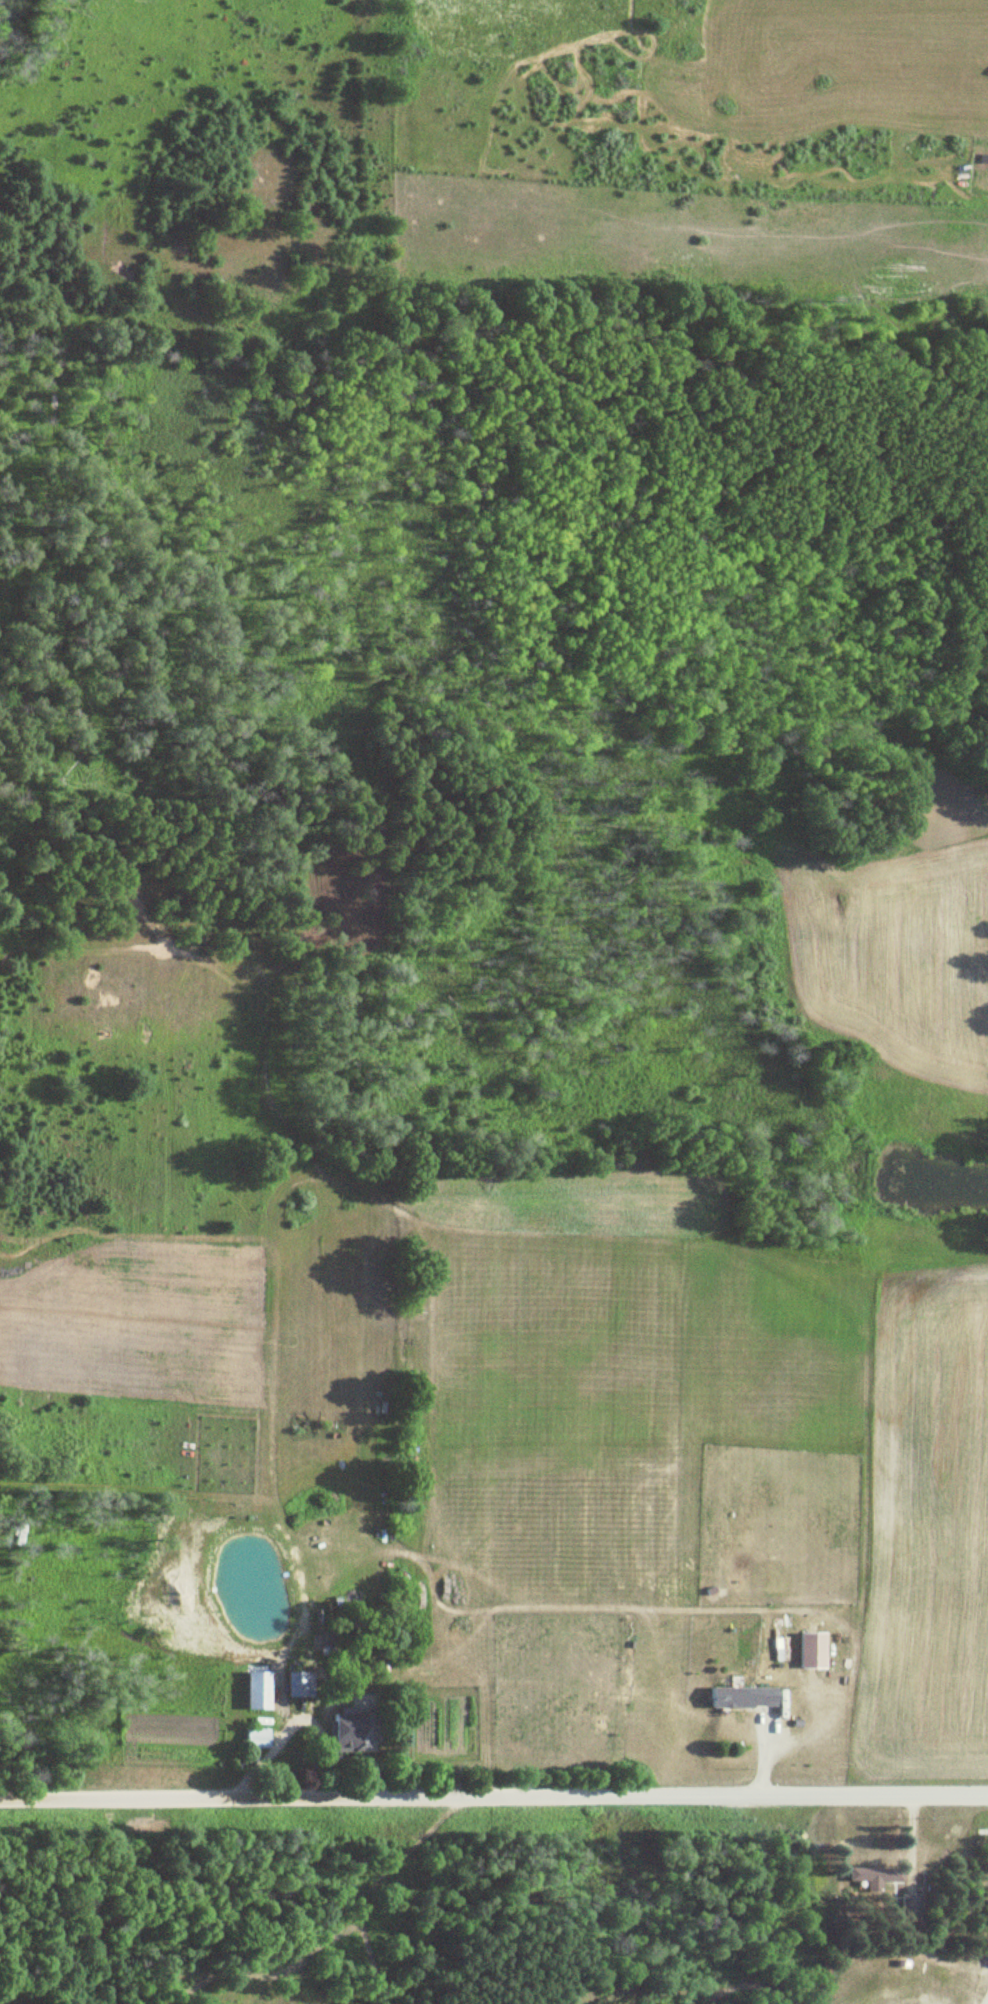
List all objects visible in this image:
building: (808, 1650)
building: (297, 1684)
building: (252, 1690)
building: (738, 1697)
building: (349, 1732)
building: (254, 1737)
road: (494, 1799)
building: (873, 1874)
building: (907, 1902)

